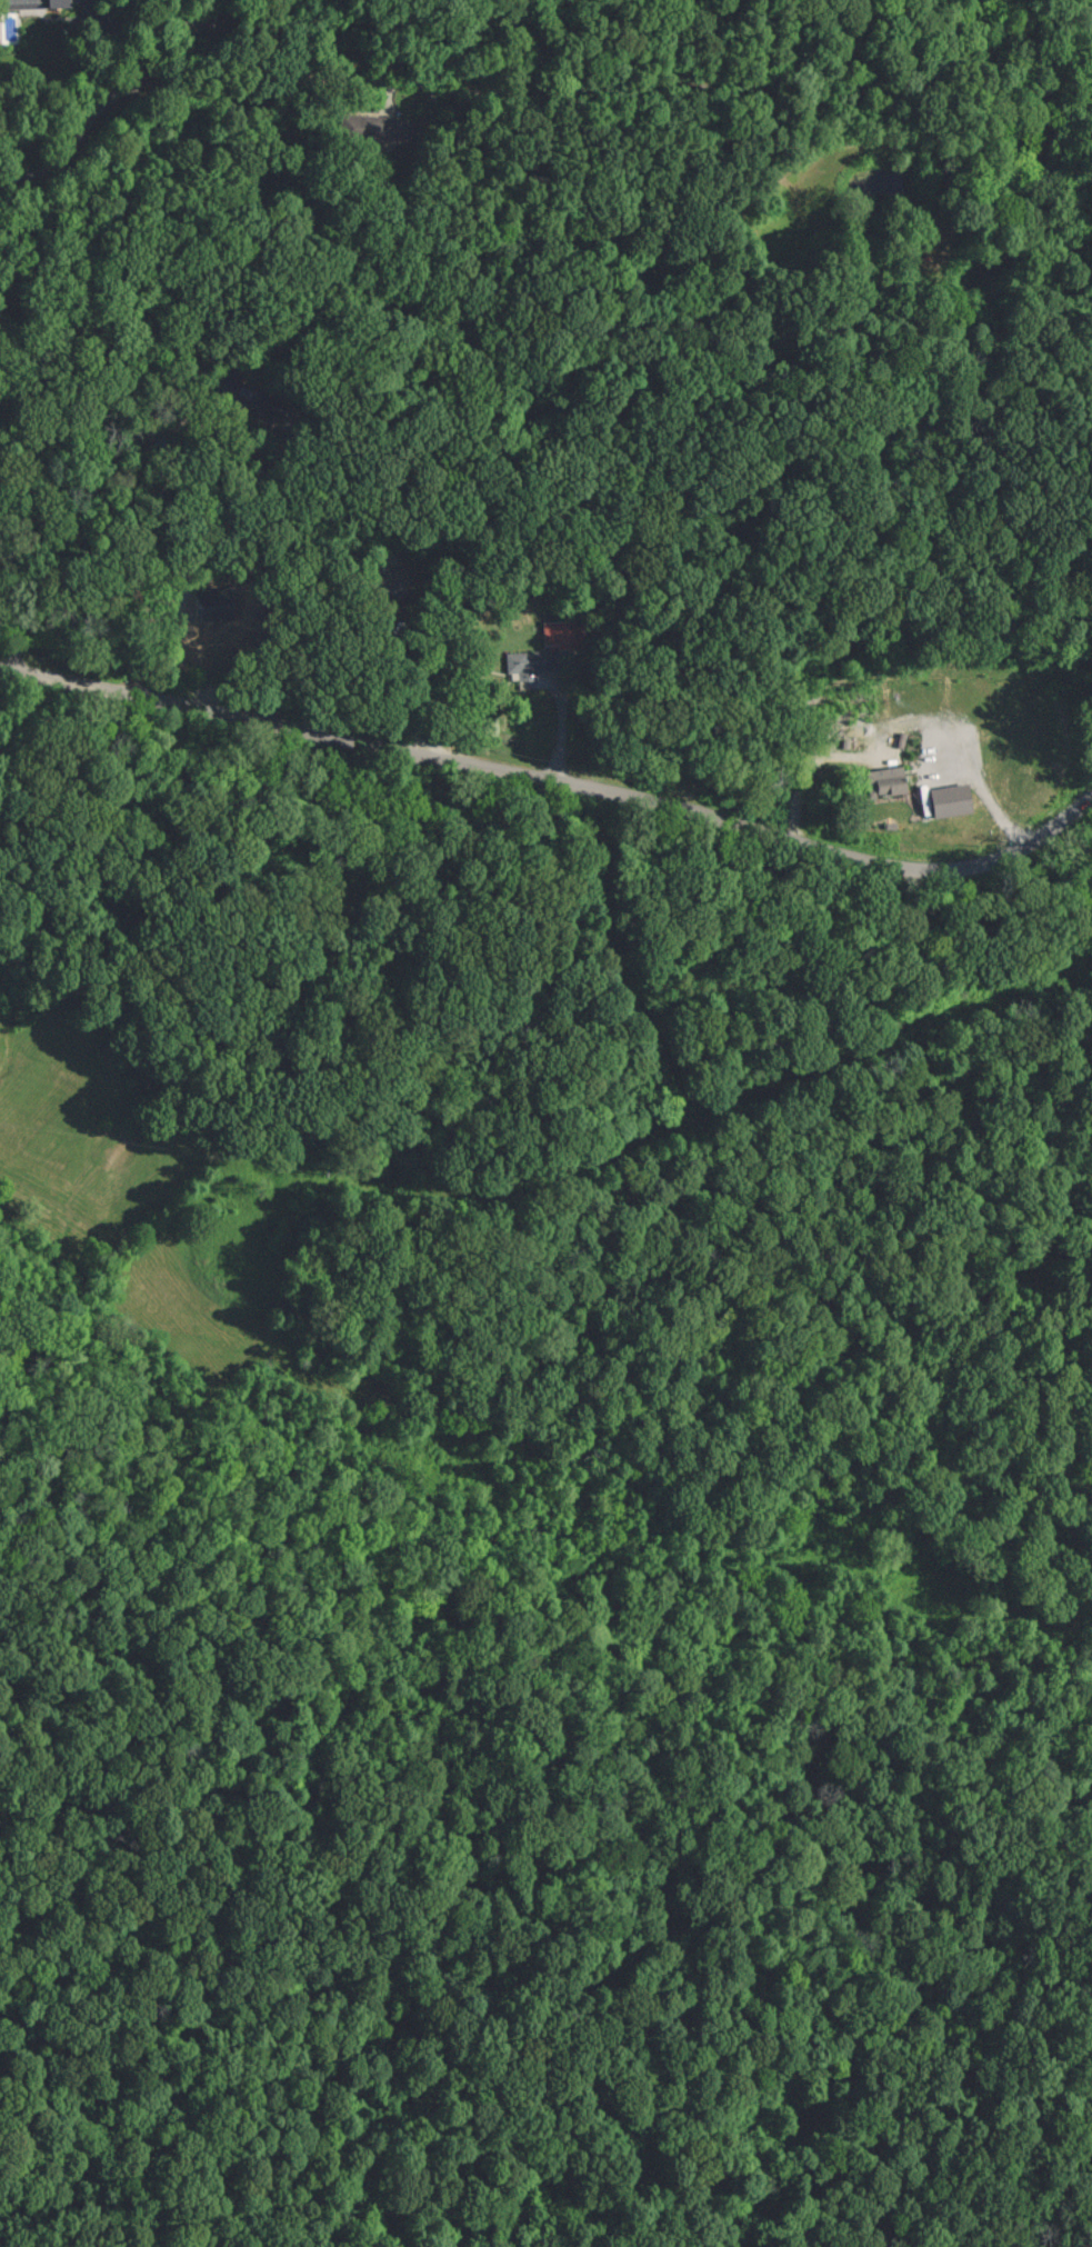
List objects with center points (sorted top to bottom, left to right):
building: (58, 3)
road: (349, 83)
building: (370, 127)
building: (246, 397)
road: (12, 626)
building: (560, 632)
building: (530, 662)
road: (391, 707)
road: (561, 733)
building: (886, 780)
road: (551, 789)
building: (952, 799)

